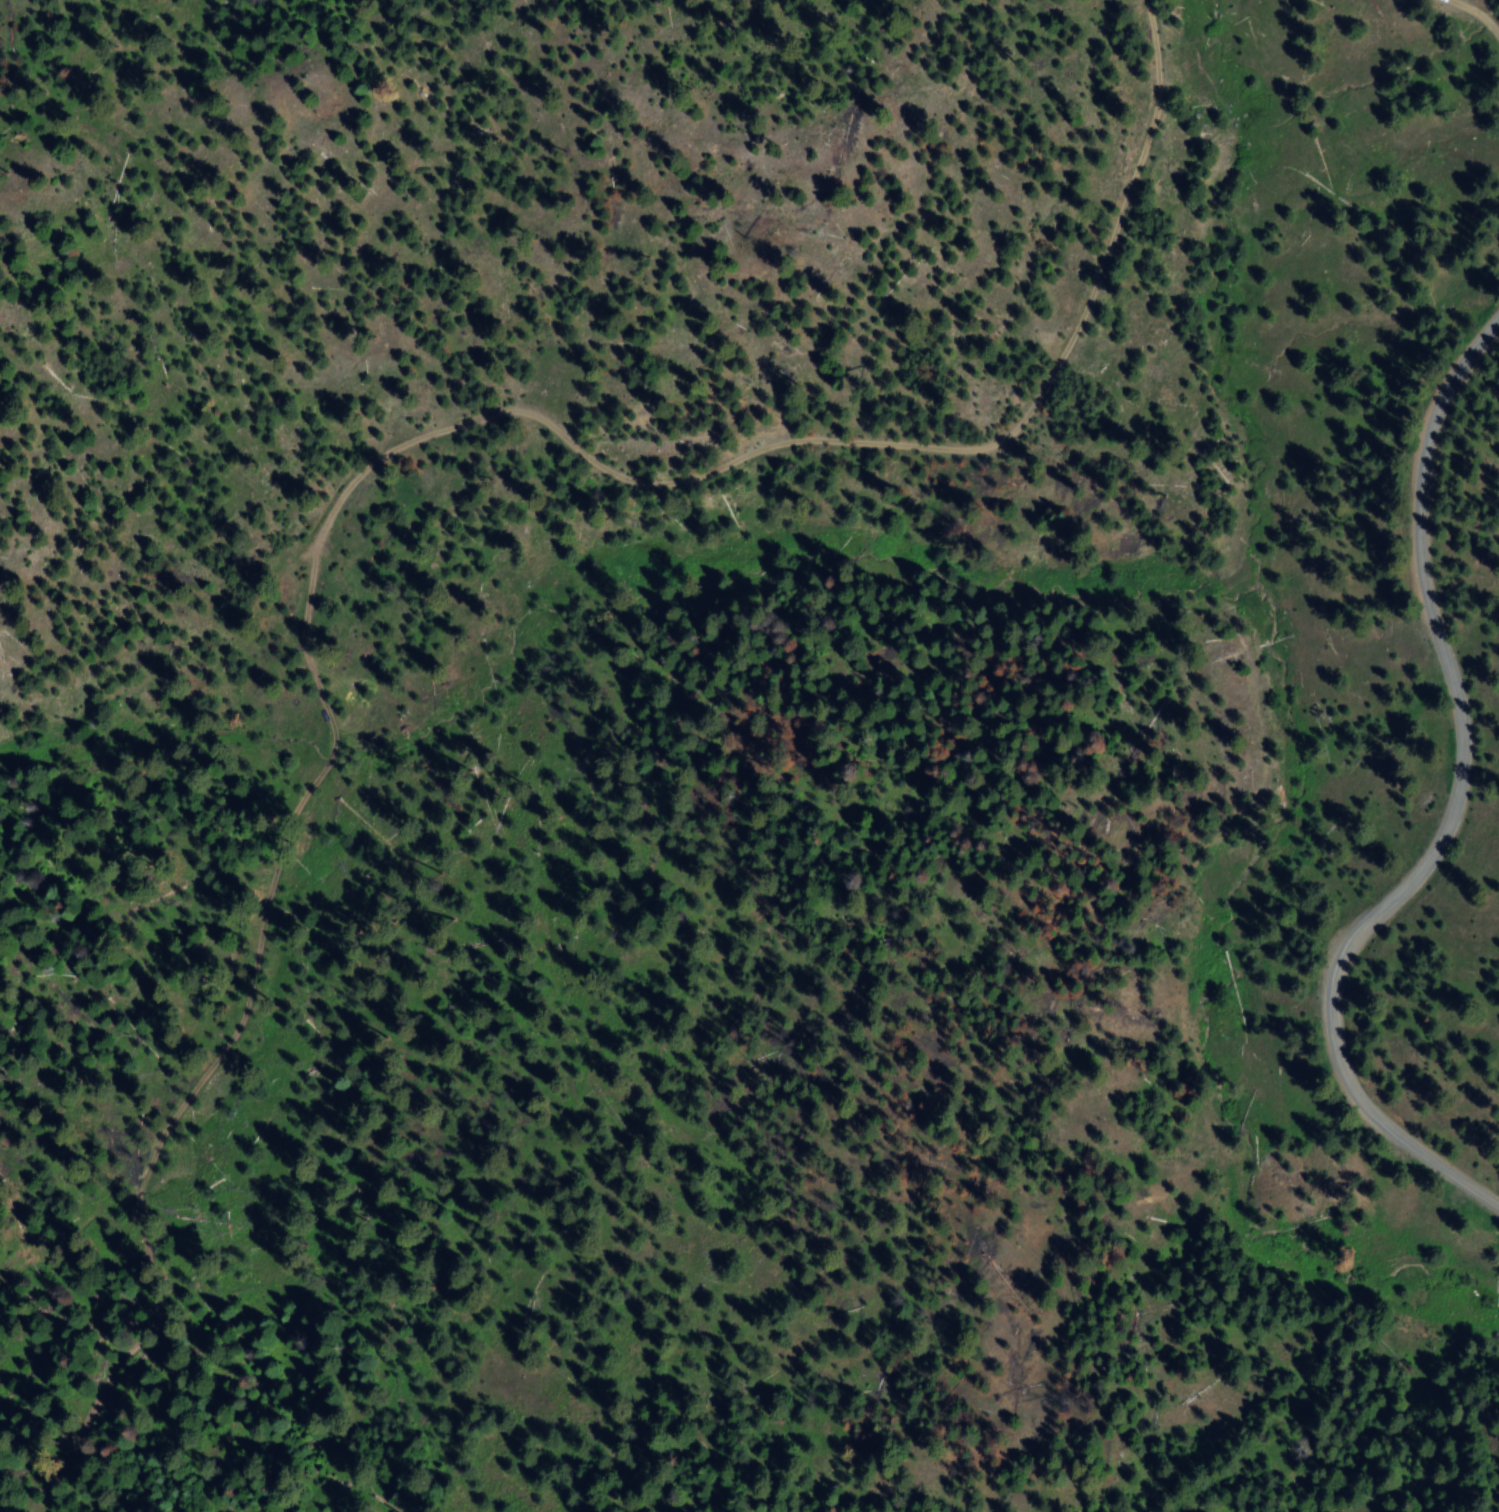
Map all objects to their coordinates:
road: (1453, 802)

